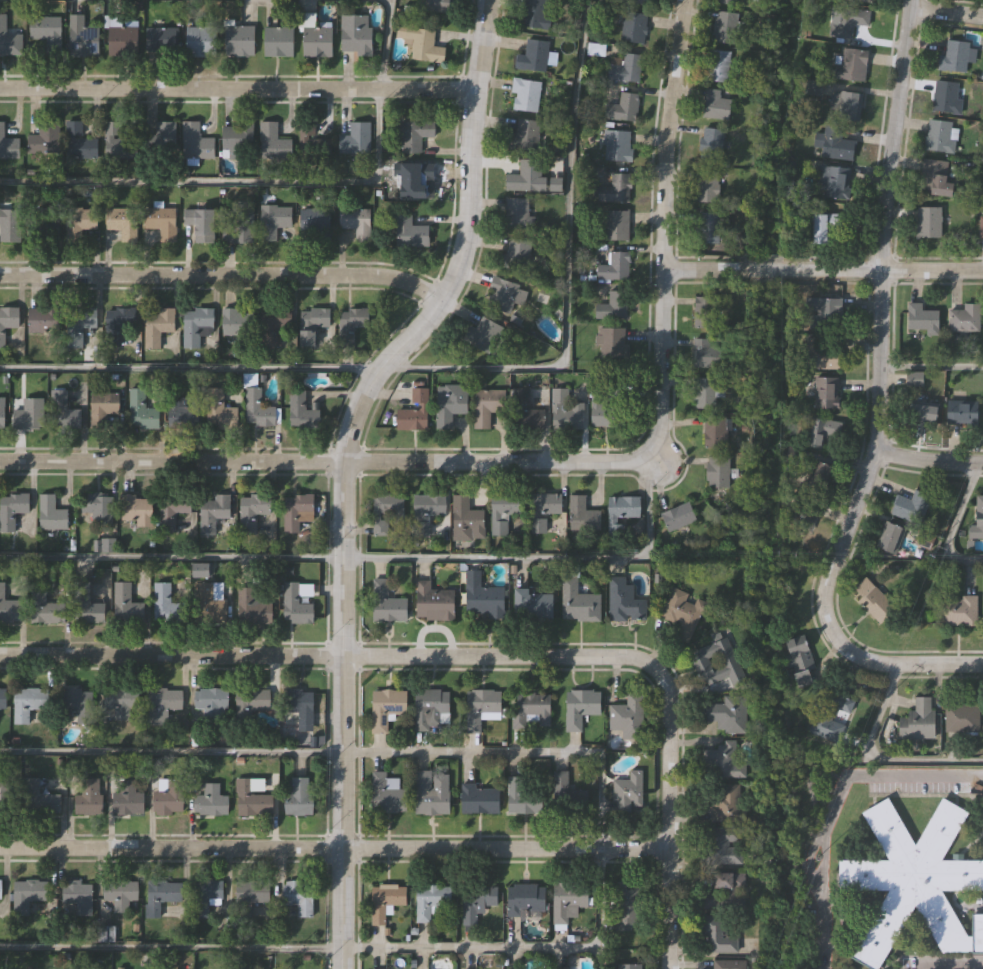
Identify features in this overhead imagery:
building: (859, 1)
building: (640, 2)
building: (728, 2)
building: (435, 6)
road: (946, 11)
building: (535, 14)
building: (854, 17)
building: (724, 27)
building: (633, 28)
building: (45, 35)
building: (356, 35)
building: (82, 38)
building: (8, 40)
building: (121, 41)
building: (161, 41)
building: (201, 42)
building: (239, 42)
building: (279, 42)
building: (317, 42)
building: (424, 45)
building: (532, 57)
building: (955, 57)
building: (851, 65)
building: (717, 66)
building: (626, 69)
road: (236, 87)
building: (524, 95)
building: (946, 97)
building: (715, 105)
building: (845, 105)
building: (623, 108)
building: (415, 134)
building: (524, 134)
building: (941, 136)
building: (355, 137)
building: (43, 139)
building: (162, 139)
building: (237, 141)
building: (78, 142)
building: (117, 142)
building: (273, 142)
building: (195, 143)
building: (834, 143)
building: (315, 144)
building: (710, 144)
building: (8, 145)
building: (617, 146)
building: (526, 177)
building: (416, 178)
building: (935, 178)
road: (279, 182)
building: (834, 182)
building: (706, 187)
building: (618, 188)
building: (518, 215)
building: (273, 219)
building: (161, 222)
building: (316, 222)
building: (356, 222)
building: (929, 222)
building: (122, 223)
building: (201, 223)
building: (43, 224)
building: (82, 224)
building: (10, 225)
building: (616, 225)
building: (981, 227)
building: (237, 228)
building: (707, 228)
building: (824, 228)
building: (410, 232)
building: (517, 250)
road: (820, 266)
building: (613, 267)
road: (220, 272)
building: (504, 294)
building: (612, 306)
building: (704, 312)
building: (824, 314)
road: (879, 316)
building: (922, 318)
building: (964, 318)
building: (8, 320)
building: (43, 320)
building: (236, 322)
building: (313, 323)
building: (351, 323)
building: (79, 324)
building: (118, 324)
building: (274, 324)
building: (197, 325)
building: (158, 326)
building: (483, 334)
building: (608, 343)
building: (704, 354)
building: (823, 354)
road: (931, 366)
road: (463, 369)
building: (914, 379)
building: (825, 392)
building: (703, 393)
building: (256, 404)
building: (449, 404)
building: (487, 405)
building: (602, 406)
building: (102, 407)
building: (303, 410)
building: (141, 411)
building: (219, 411)
building: (2, 412)
building: (414, 412)
building: (565, 412)
building: (185, 413)
building: (28, 414)
building: (527, 414)
building: (923, 414)
building: (961, 414)
building: (65, 415)
building: (822, 430)
building: (715, 432)
road: (552, 457)
road: (926, 460)
road: (342, 466)
building: (716, 474)
building: (820, 474)
building: (548, 504)
building: (98, 506)
building: (430, 506)
building: (910, 507)
building: (12, 509)
building: (136, 509)
building: (252, 510)
building: (172, 511)
building: (503, 511)
building: (213, 512)
building: (385, 512)
building: (621, 512)
building: (299, 513)
building: (796, 513)
building: (50, 514)
building: (581, 515)
building: (677, 516)
building: (465, 519)
building: (977, 520)
road: (952, 525)
building: (537, 526)
building: (890, 537)
building: (925, 541)
road: (378, 558)
building: (483, 601)
building: (874, 601)
building: (624, 602)
building: (213, 603)
building: (386, 603)
building: (433, 603)
building: (577, 603)
building: (126, 605)
building: (167, 605)
building: (295, 605)
building: (533, 605)
building: (87, 606)
building: (252, 607)
building: (8, 608)
building: (46, 608)
building: (683, 609)
building: (958, 611)
road: (326, 656)
building: (801, 660)
road: (897, 662)
building: (716, 666)
building: (3, 699)
building: (253, 700)
building: (211, 701)
building: (121, 702)
building: (27, 703)
building: (79, 704)
building: (162, 704)
building: (298, 707)
building: (580, 707)
building: (385, 708)
building: (481, 708)
building: (431, 710)
building: (530, 711)
building: (727, 715)
building: (830, 716)
building: (628, 717)
building: (962, 718)
building: (918, 720)
road: (406, 752)
road: (877, 759)
building: (723, 761)
building: (570, 790)
building: (627, 792)
building: (432, 793)
building: (387, 795)
building: (88, 797)
building: (298, 797)
building: (6, 798)
building: (169, 798)
building: (39, 799)
building: (522, 799)
building: (127, 800)
building: (479, 800)
building: (211, 801)
building: (251, 801)
building: (721, 802)
road: (835, 803)
road: (667, 815)
building: (722, 846)
road: (333, 847)
building: (728, 880)
building: (915, 880)
building: (0, 889)
building: (253, 892)
building: (163, 894)
building: (27, 895)
building: (119, 895)
building: (206, 896)
building: (299, 897)
building: (76, 898)
building: (525, 899)
building: (430, 900)
building: (568, 900)
building: (385, 901)
building: (709, 901)
building: (476, 903)
building: (628, 908)
building: (716, 935)
road: (299, 948)
building: (627, 966)
road: (975, 968)

